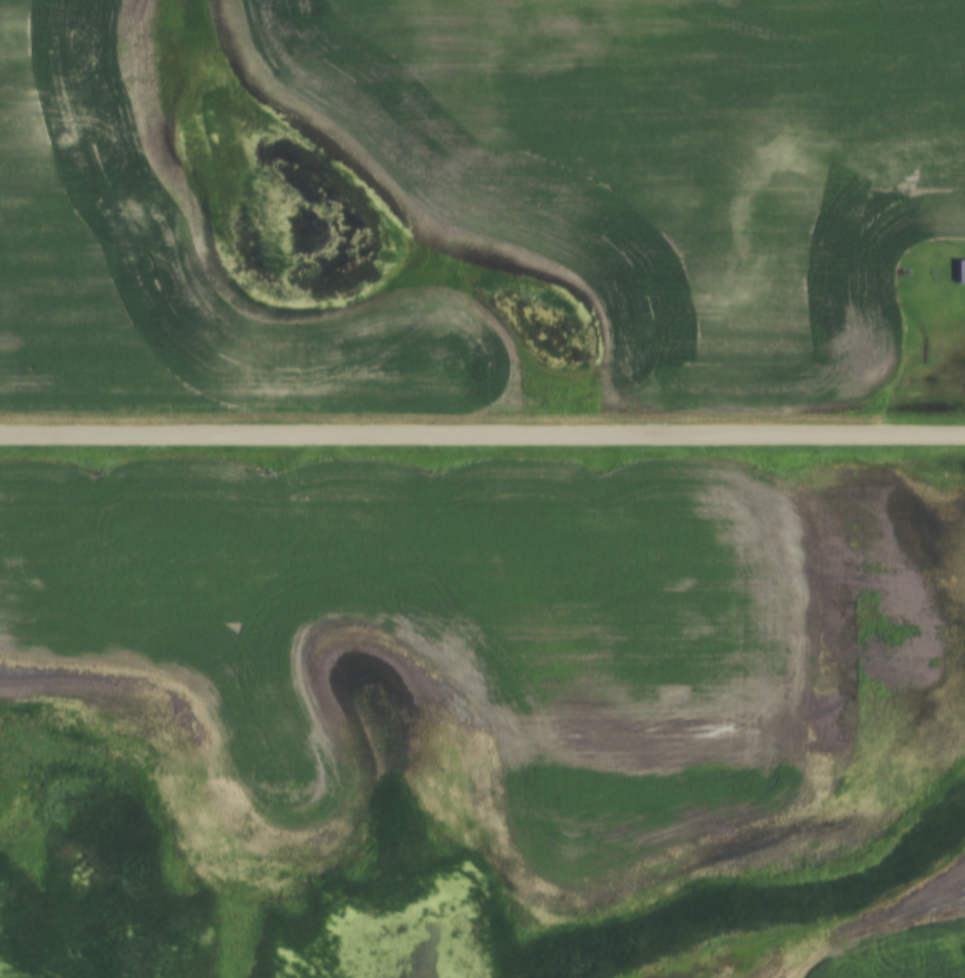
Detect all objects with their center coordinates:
building: (962, 271)
road: (482, 438)

